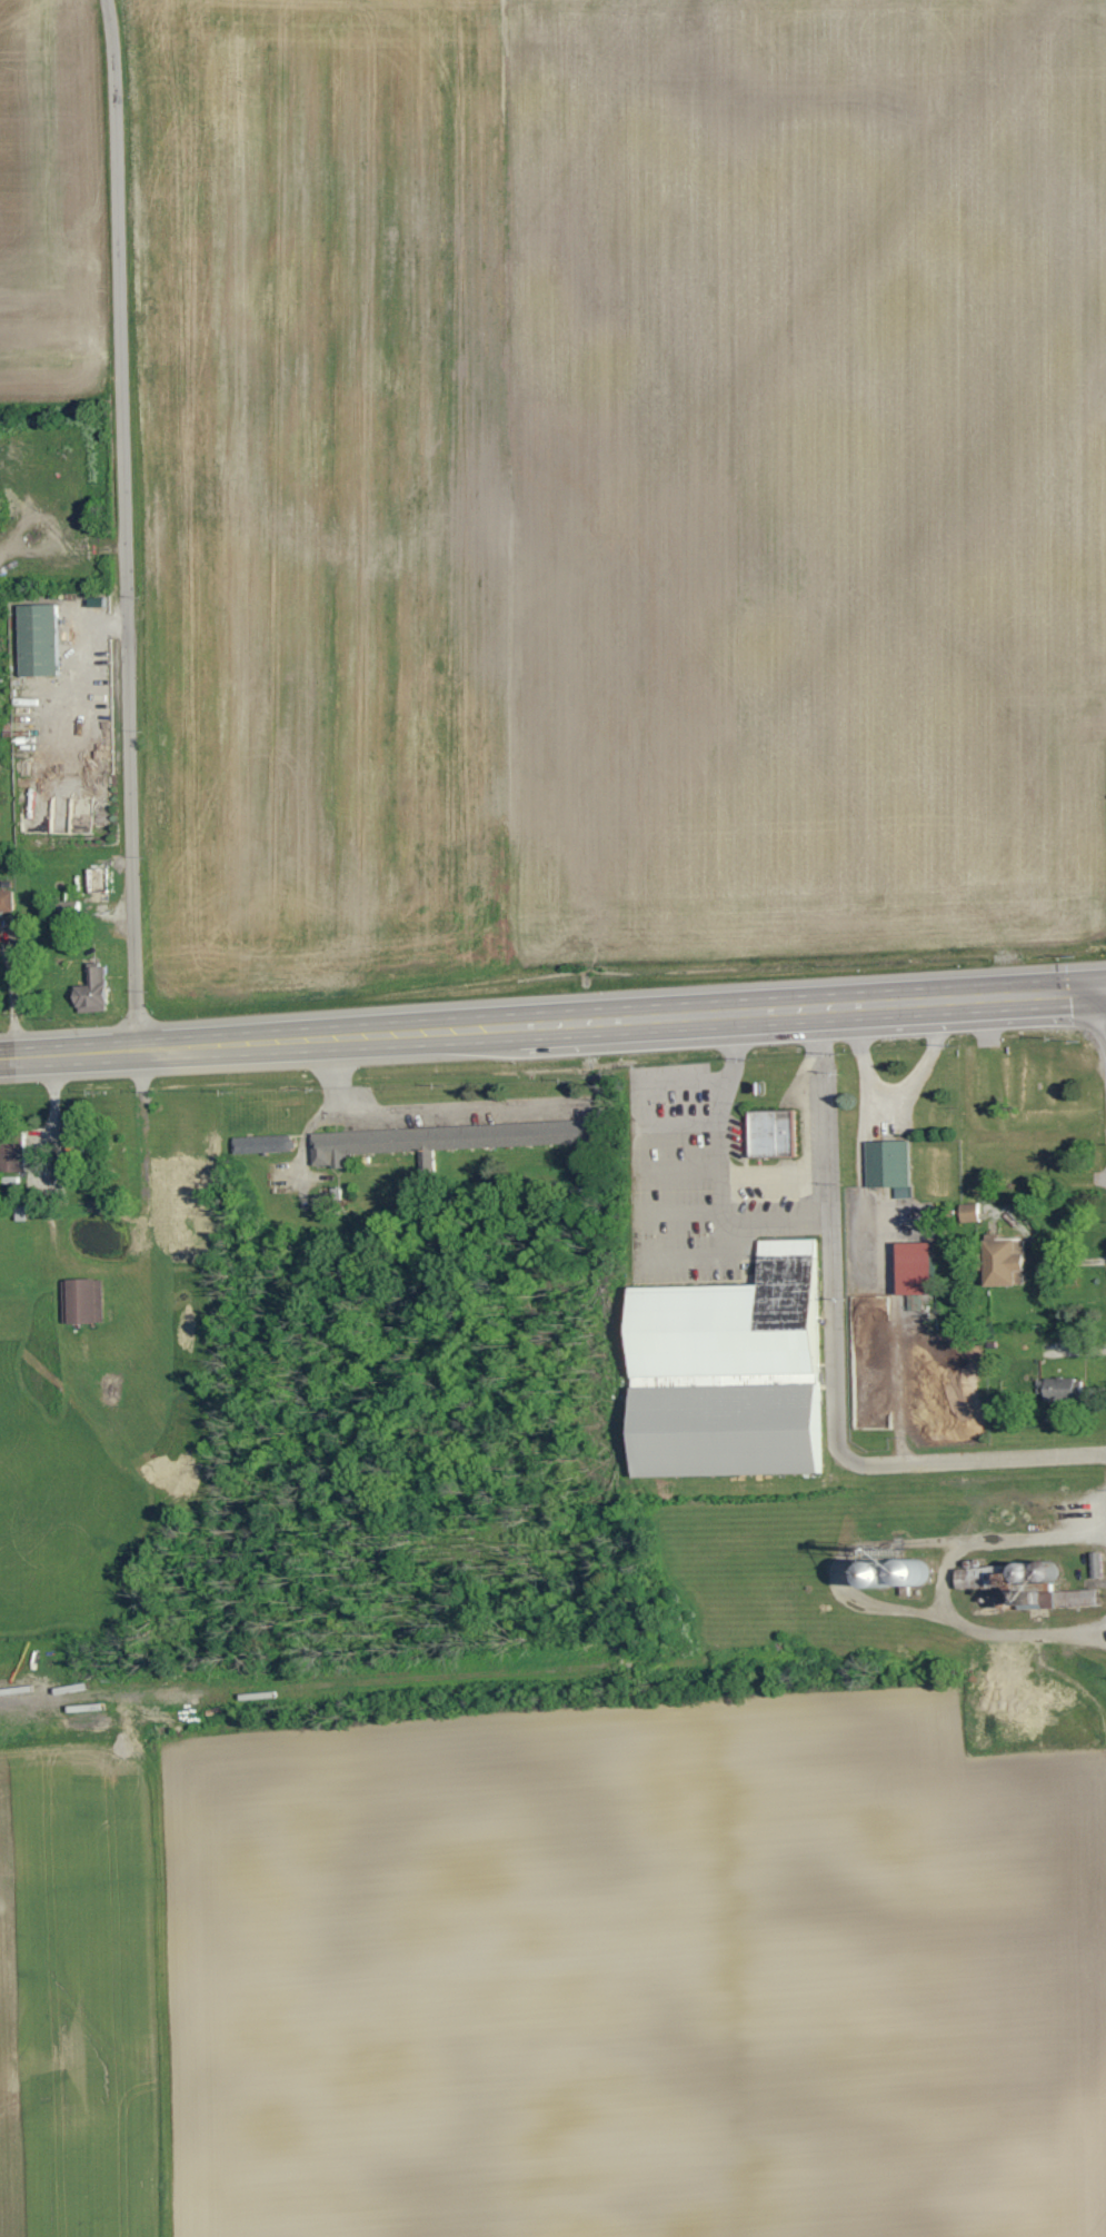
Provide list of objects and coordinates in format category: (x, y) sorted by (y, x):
road: (126, 524)
road: (2, 554)
building: (36, 639)
road: (78, 662)
building: (7, 902)
road: (14, 988)
building: (91, 992)
road: (552, 1024)
road: (730, 1050)
road: (677, 1084)
road: (897, 1091)
road: (426, 1111)
road: (678, 1120)
building: (770, 1133)
building: (446, 1140)
building: (262, 1145)
building: (12, 1153)
road: (677, 1166)
building: (888, 1166)
road: (46, 1175)
road: (719, 1205)
building: (970, 1212)
road: (682, 1224)
road: (1042, 1252)
building: (1002, 1261)
building: (911, 1269)
road: (887, 1270)
building: (81, 1301)
building: (735, 1322)
road: (829, 1366)
building: (1044, 1383)
building: (729, 1431)
building: (896, 1572)
building: (977, 1578)
road: (953, 1581)
building: (1022, 1588)

